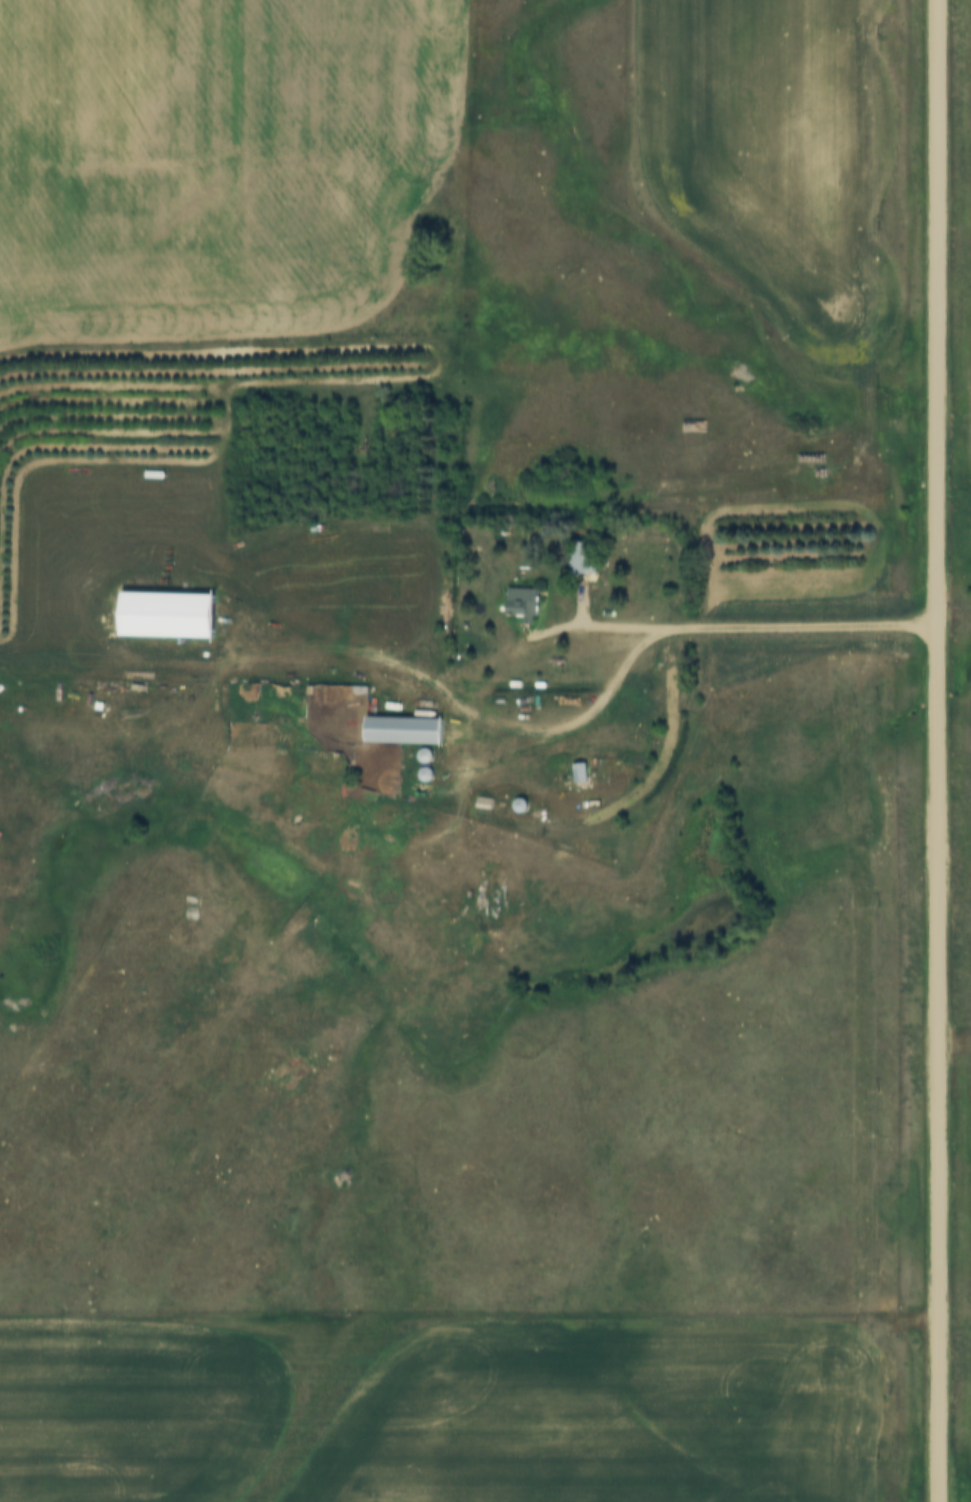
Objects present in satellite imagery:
building: (583, 557)
building: (522, 603)
building: (165, 614)
road: (723, 630)
road: (236, 668)
road: (587, 719)
building: (402, 729)
road: (933, 751)
building: (578, 771)

